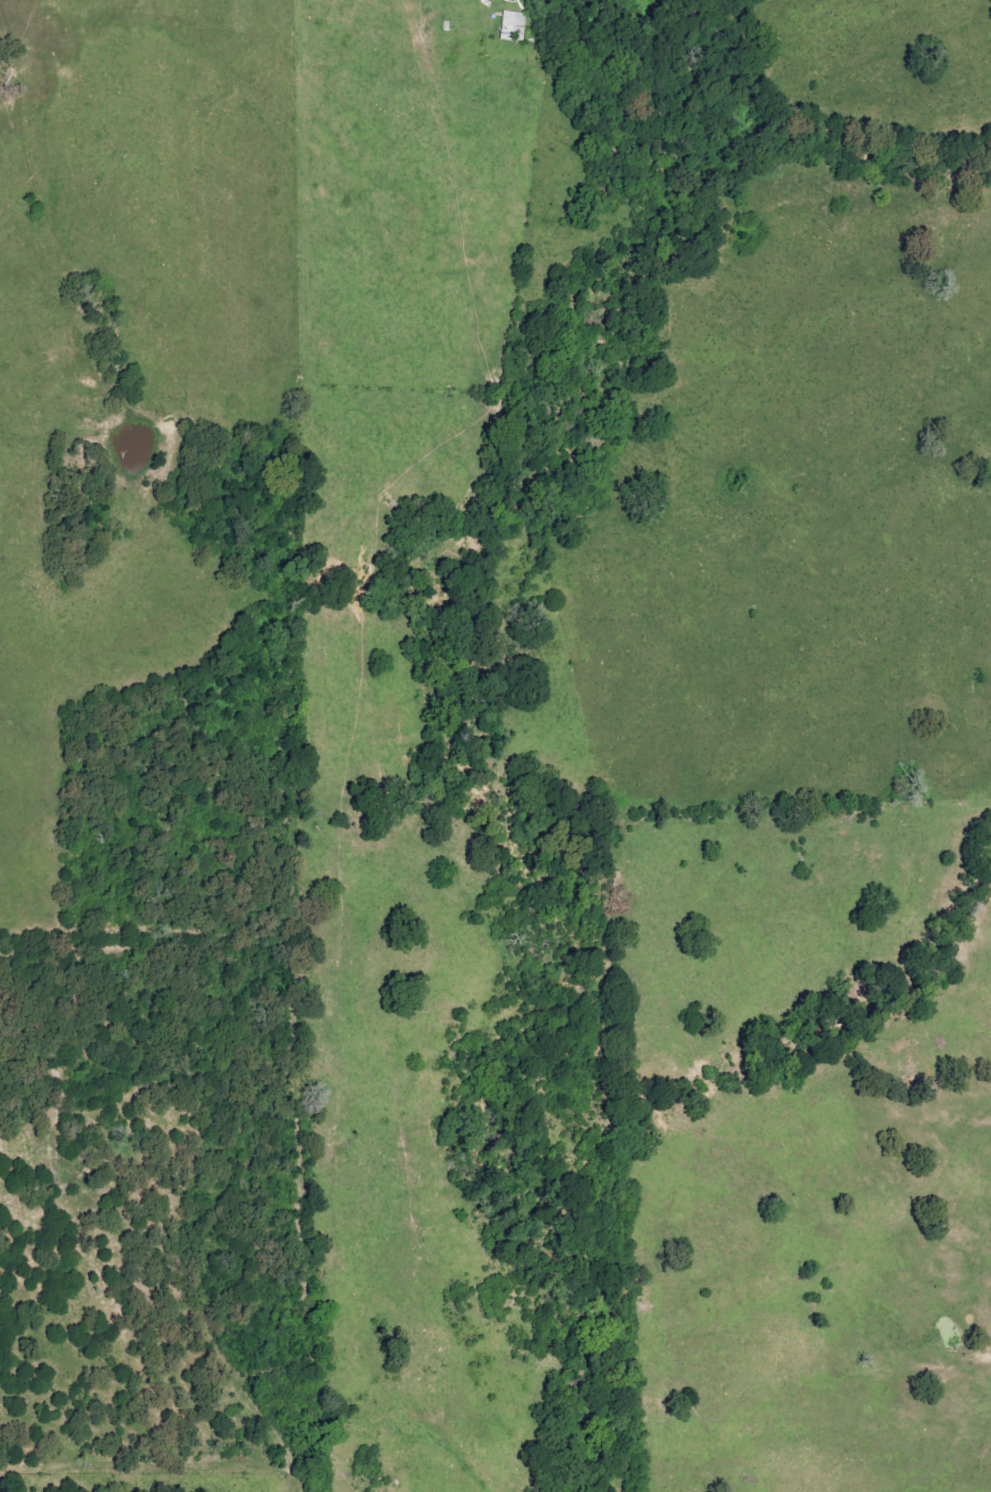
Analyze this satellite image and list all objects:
building: (515, 25)

